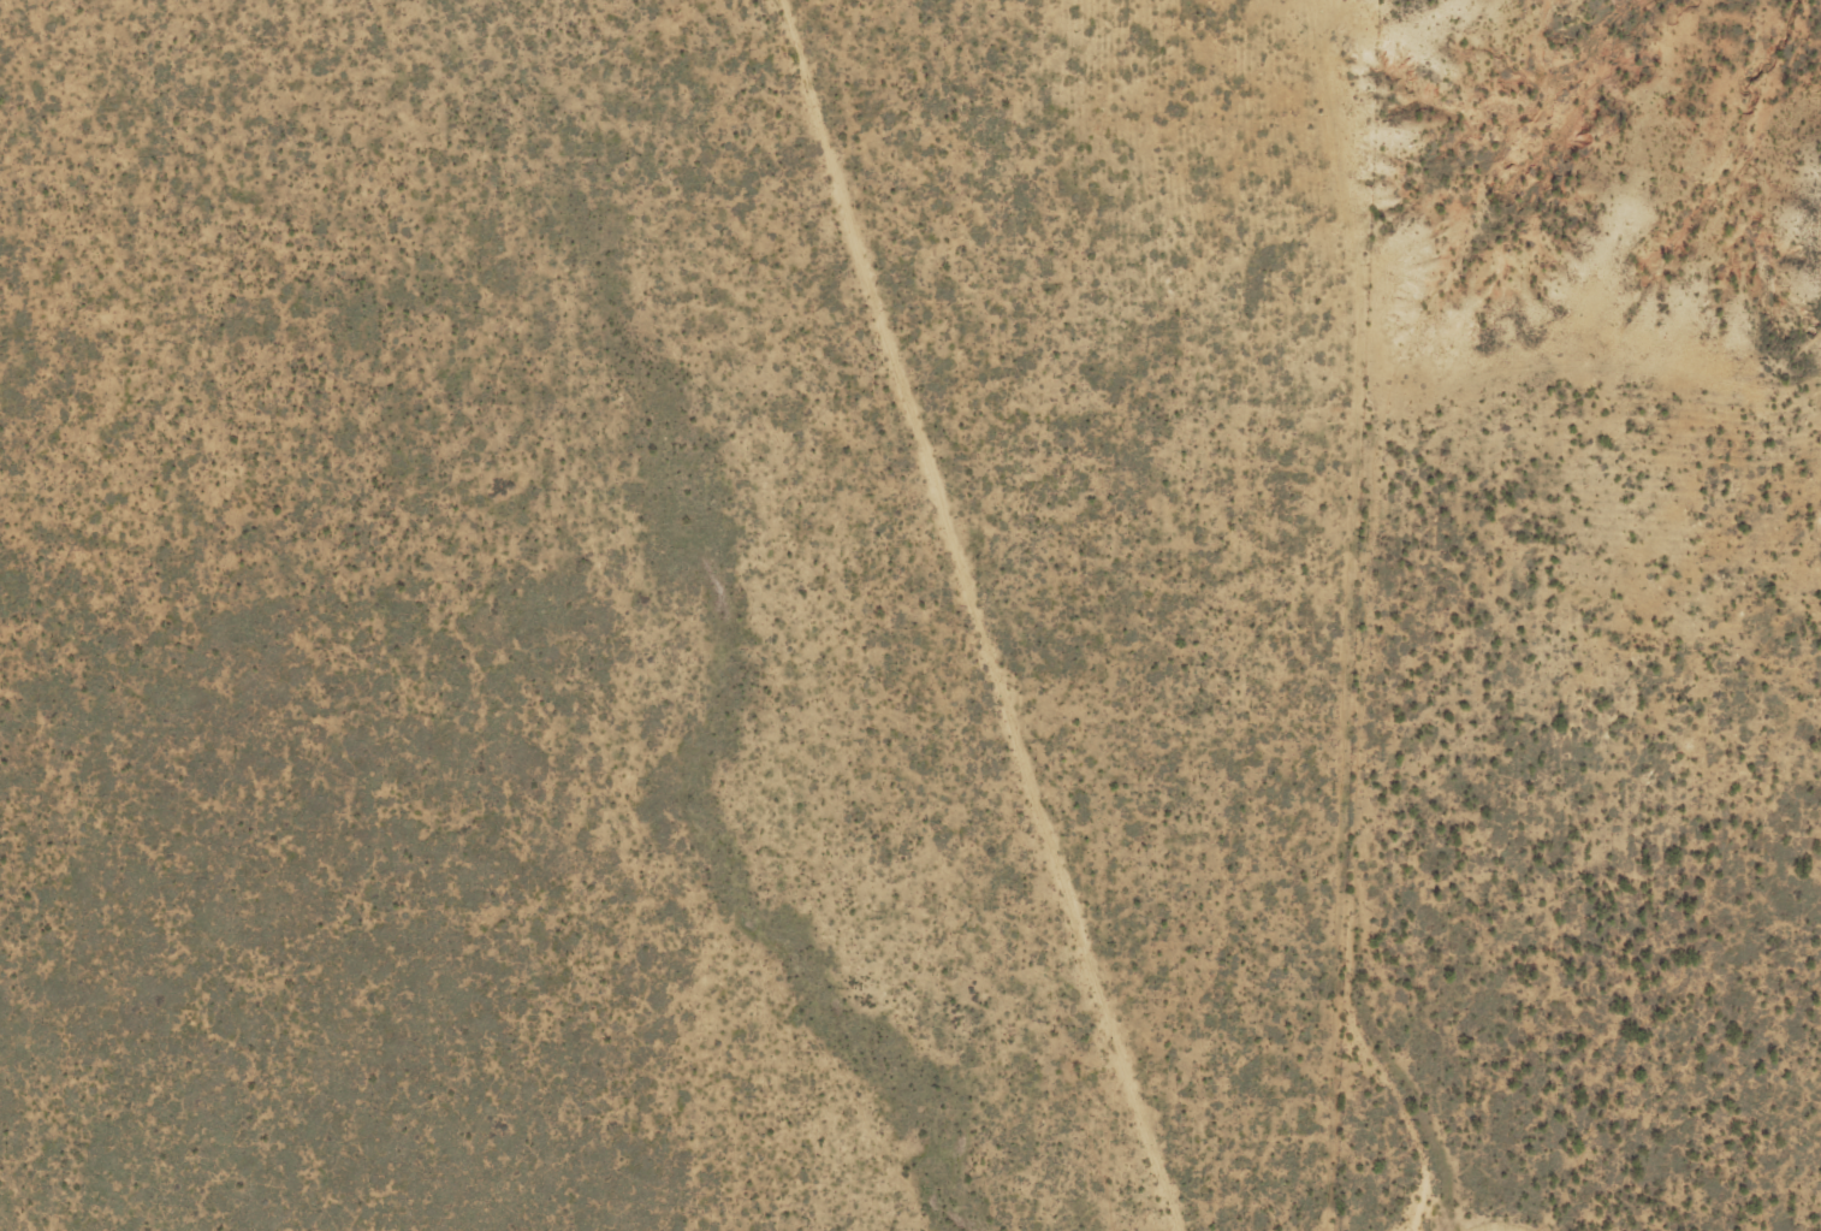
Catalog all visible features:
road: (1638, 448)

